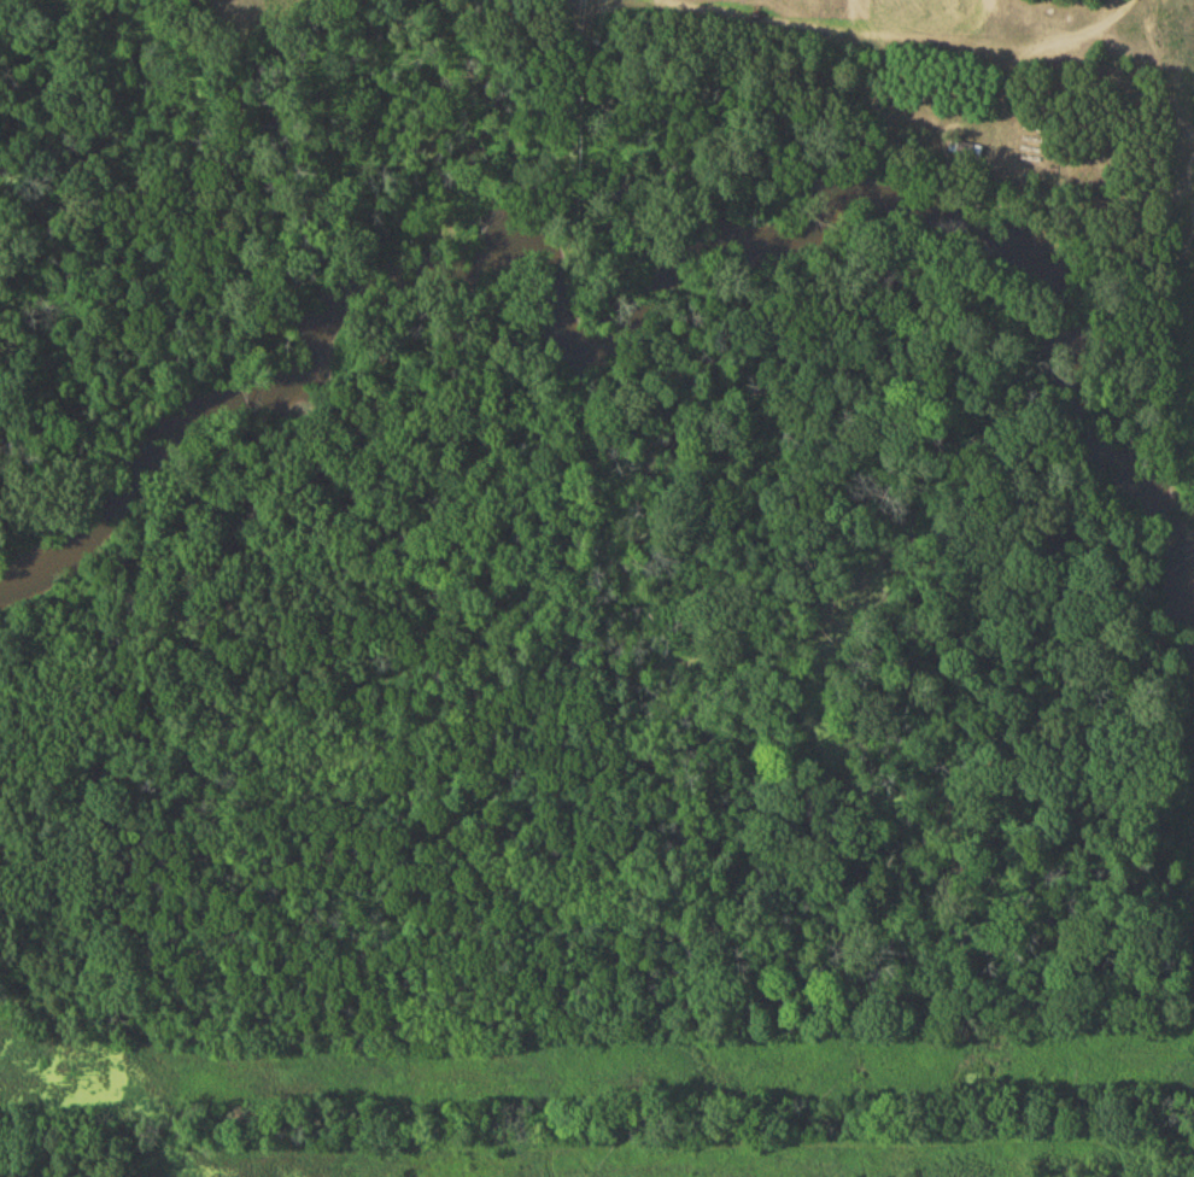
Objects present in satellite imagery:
building: (964, 153)

